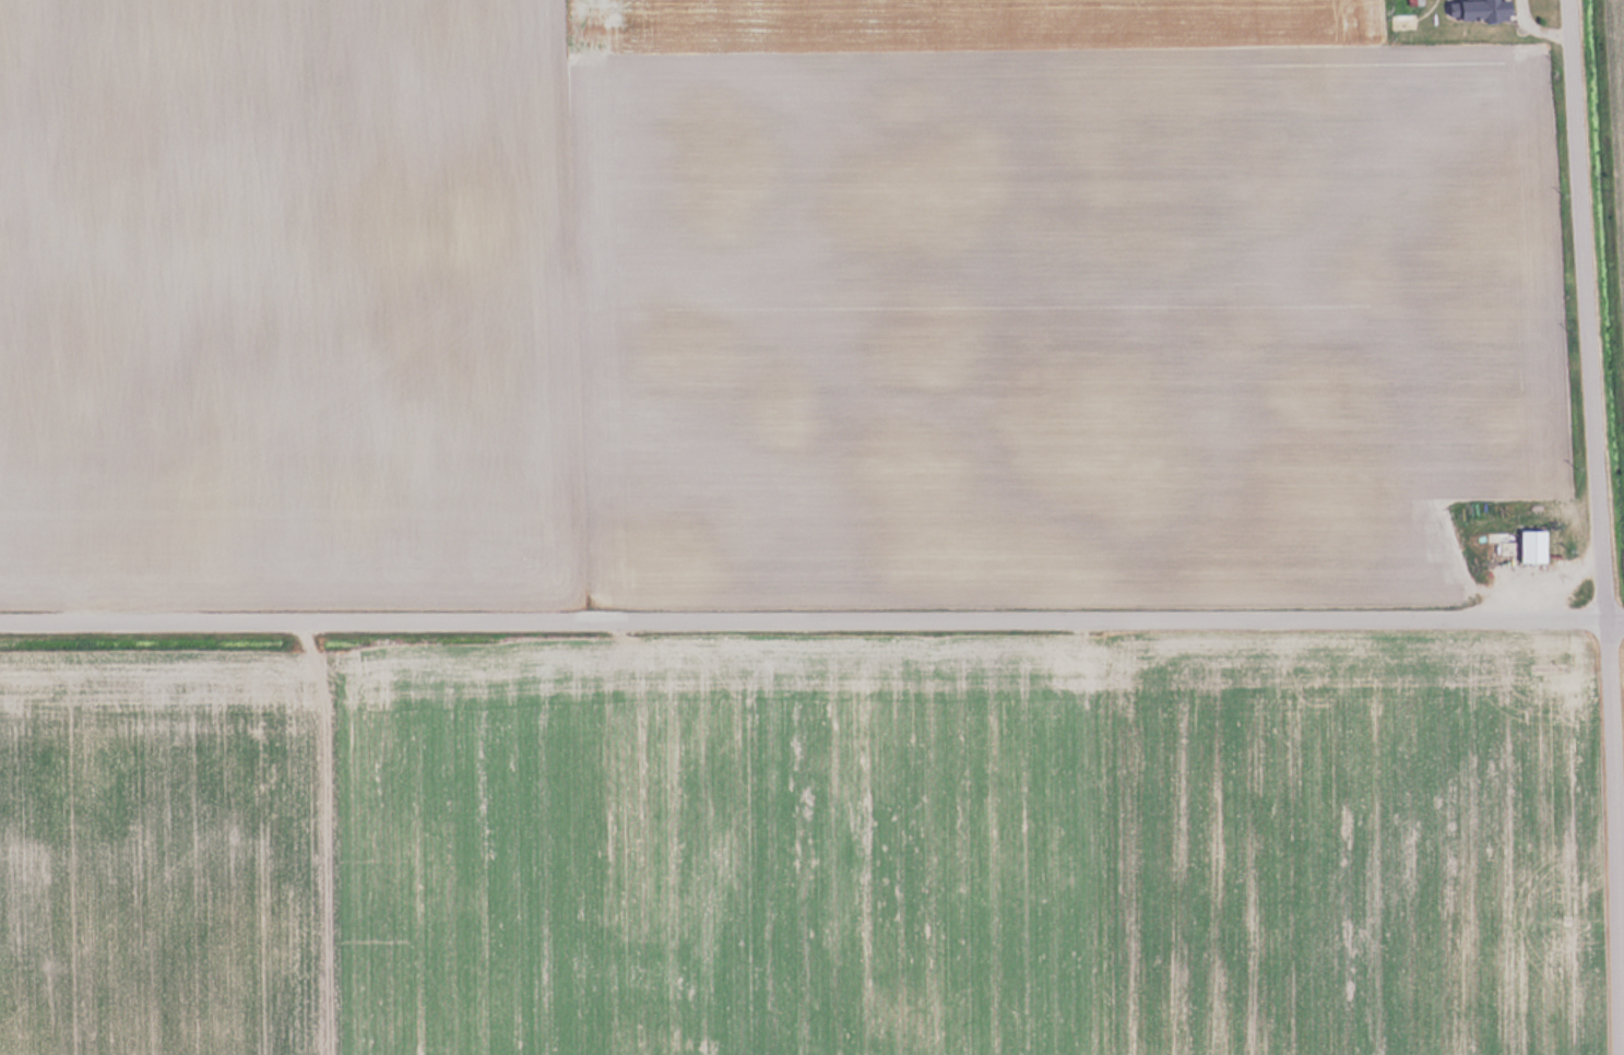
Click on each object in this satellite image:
building: (1482, 9)
road: (1601, 526)
building: (1531, 545)
road: (811, 628)

